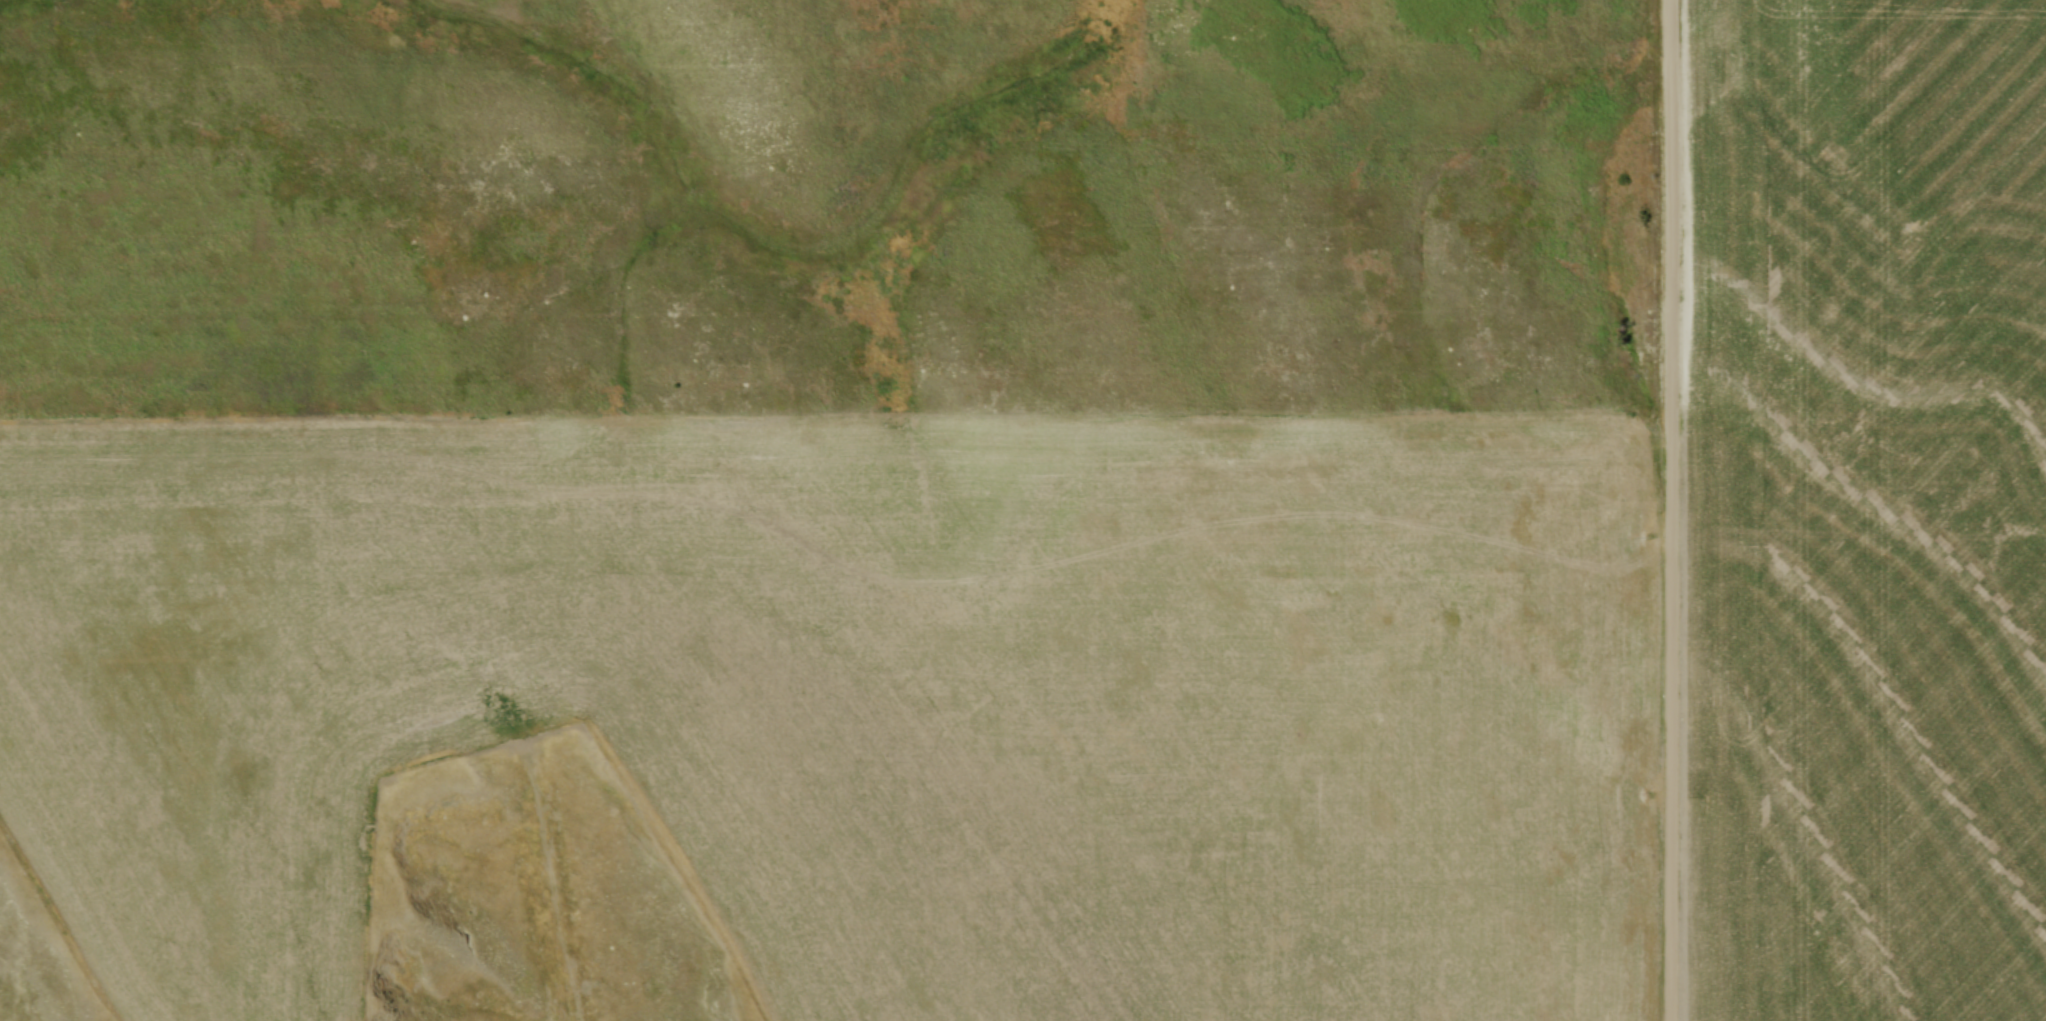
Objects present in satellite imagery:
road: (1673, 510)

